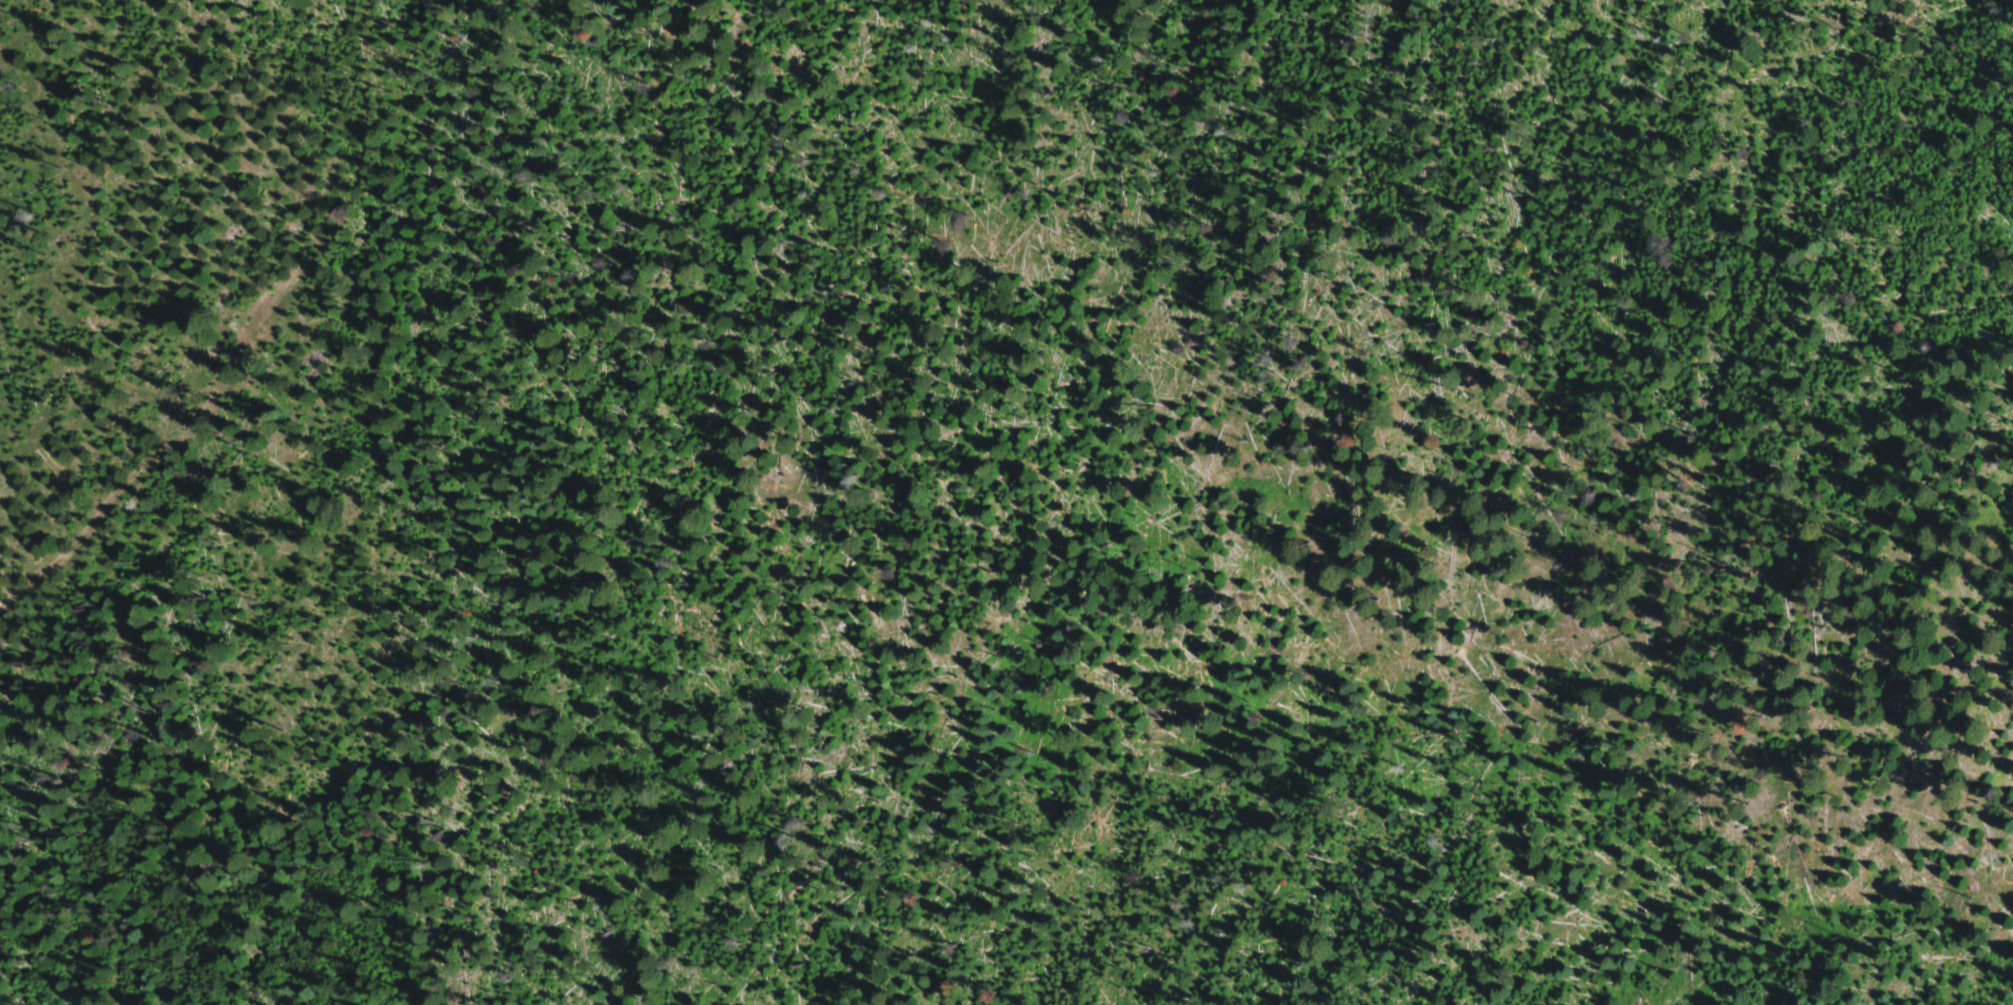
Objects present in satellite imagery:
road: (223, 313)

